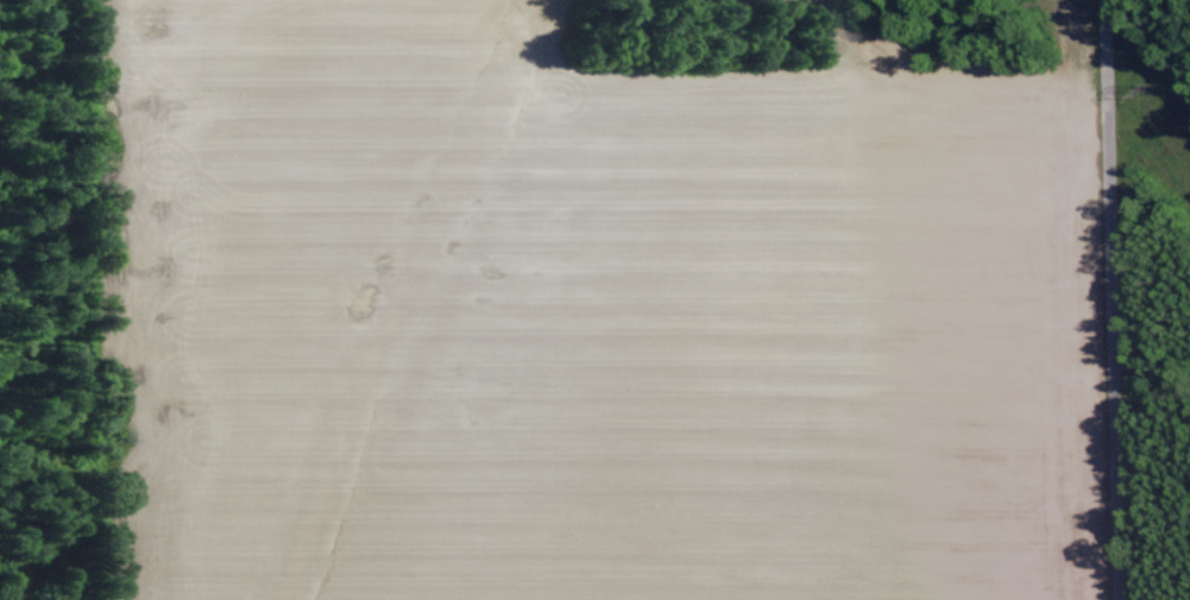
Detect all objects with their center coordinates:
road: (1115, 299)

